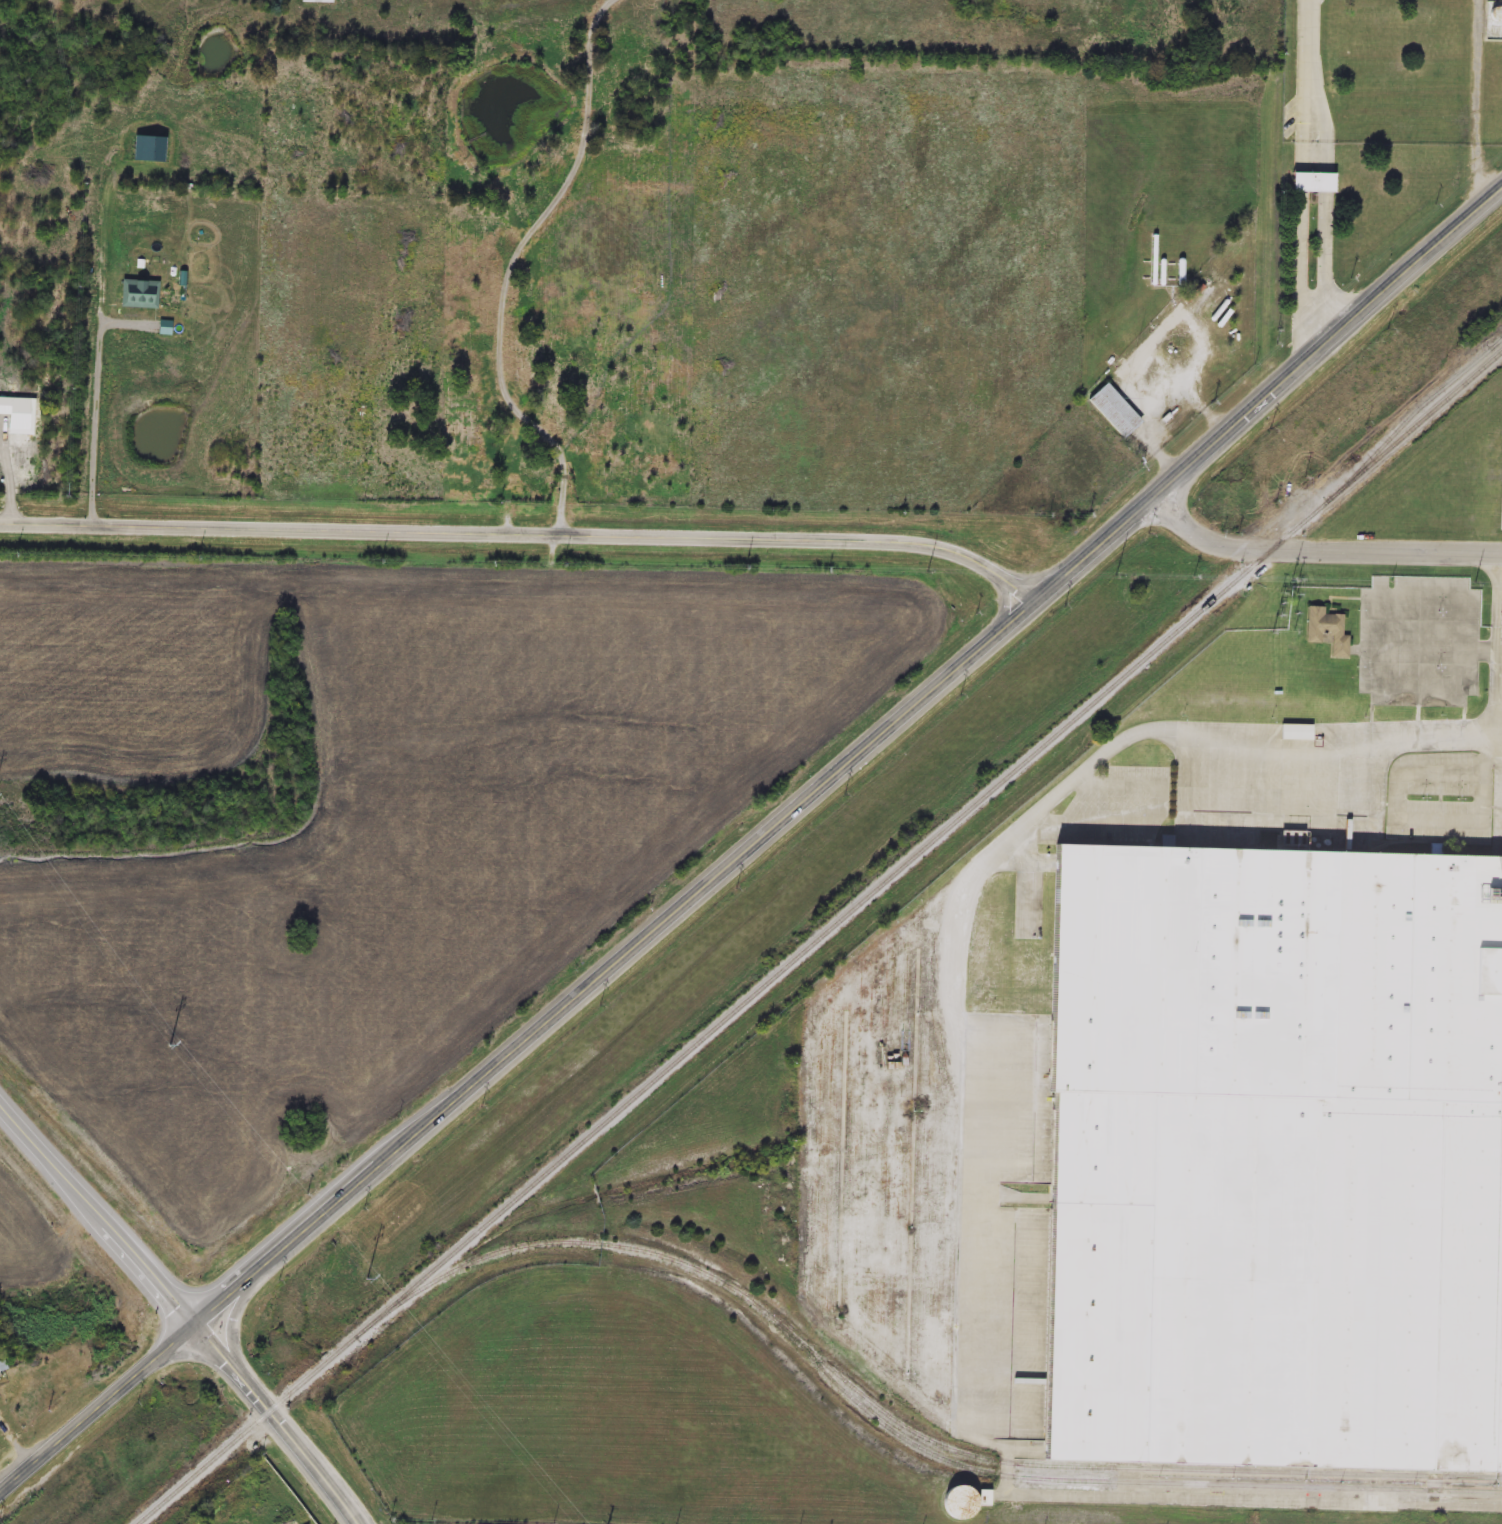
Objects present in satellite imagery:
building: (316, 1)
road: (1310, 52)
building: (1312, 184)
road: (1326, 220)
road: (1299, 234)
road: (509, 264)
power tower: (1386, 332)
railway: (1497, 345)
railway: (1497, 345)
road: (98, 402)
building: (1115, 411)
railway: (1409, 420)
building: (459, 423)
power tower: (1264, 434)
road: (526, 536)
road: (1207, 540)
road: (1386, 555)
road: (1008, 603)
building: (1327, 632)
power tower: (958, 698)
road: (1500, 706)
building: (1297, 734)
parking lot: (1423, 792)
power tower: (853, 793)
road: (753, 846)
road: (1004, 848)
power tower: (742, 889)
railway: (820, 937)
power tower: (600, 1008)
power tower: (484, 1111)
building: (1275, 1158)
road: (100, 1196)
power tower: (278, 1285)
building: (3, 1368)
road: (285, 1421)
railway: (903, 1424)

